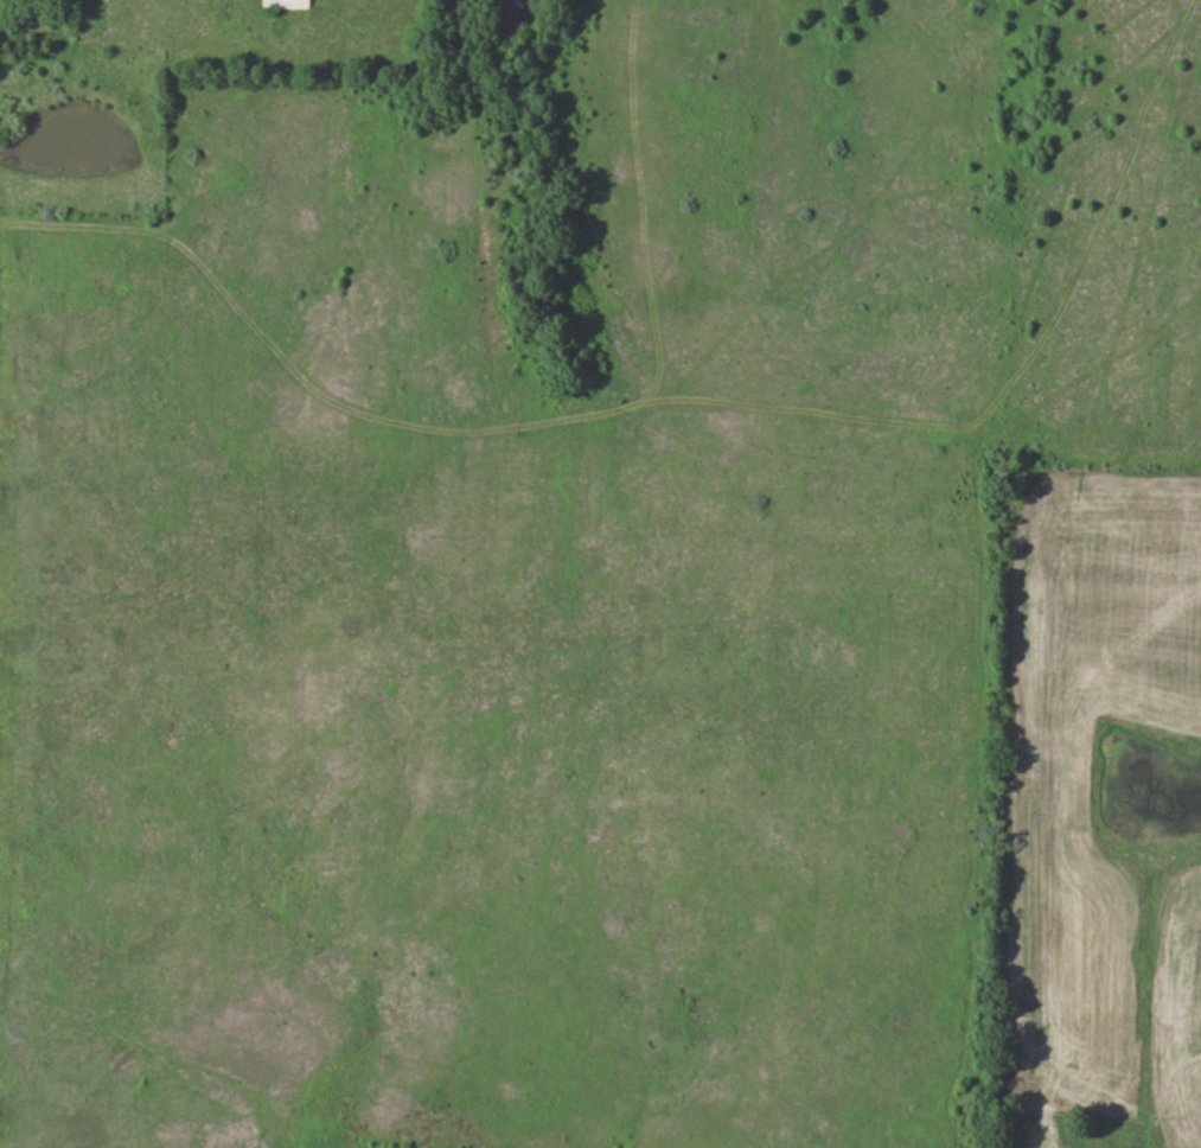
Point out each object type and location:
building: (288, 4)

